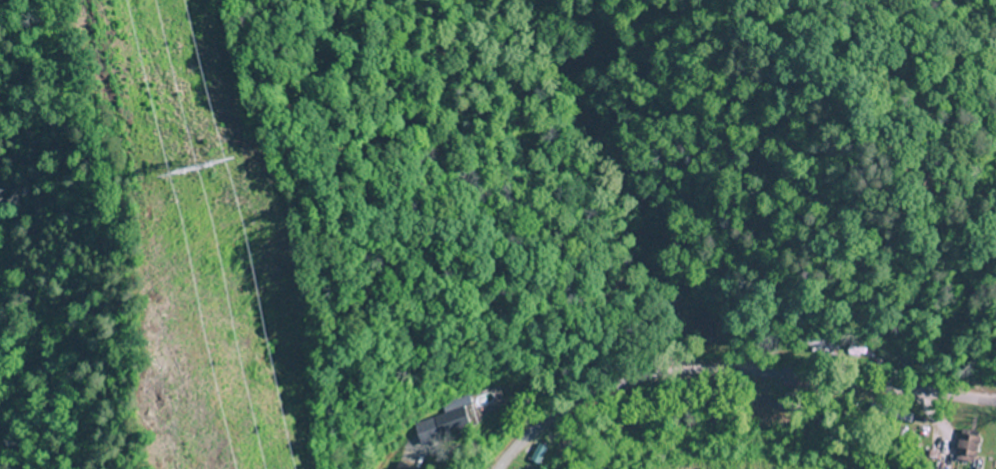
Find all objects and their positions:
power tower: (206, 219)
road: (735, 357)
building: (488, 399)
building: (447, 419)
building: (965, 448)

